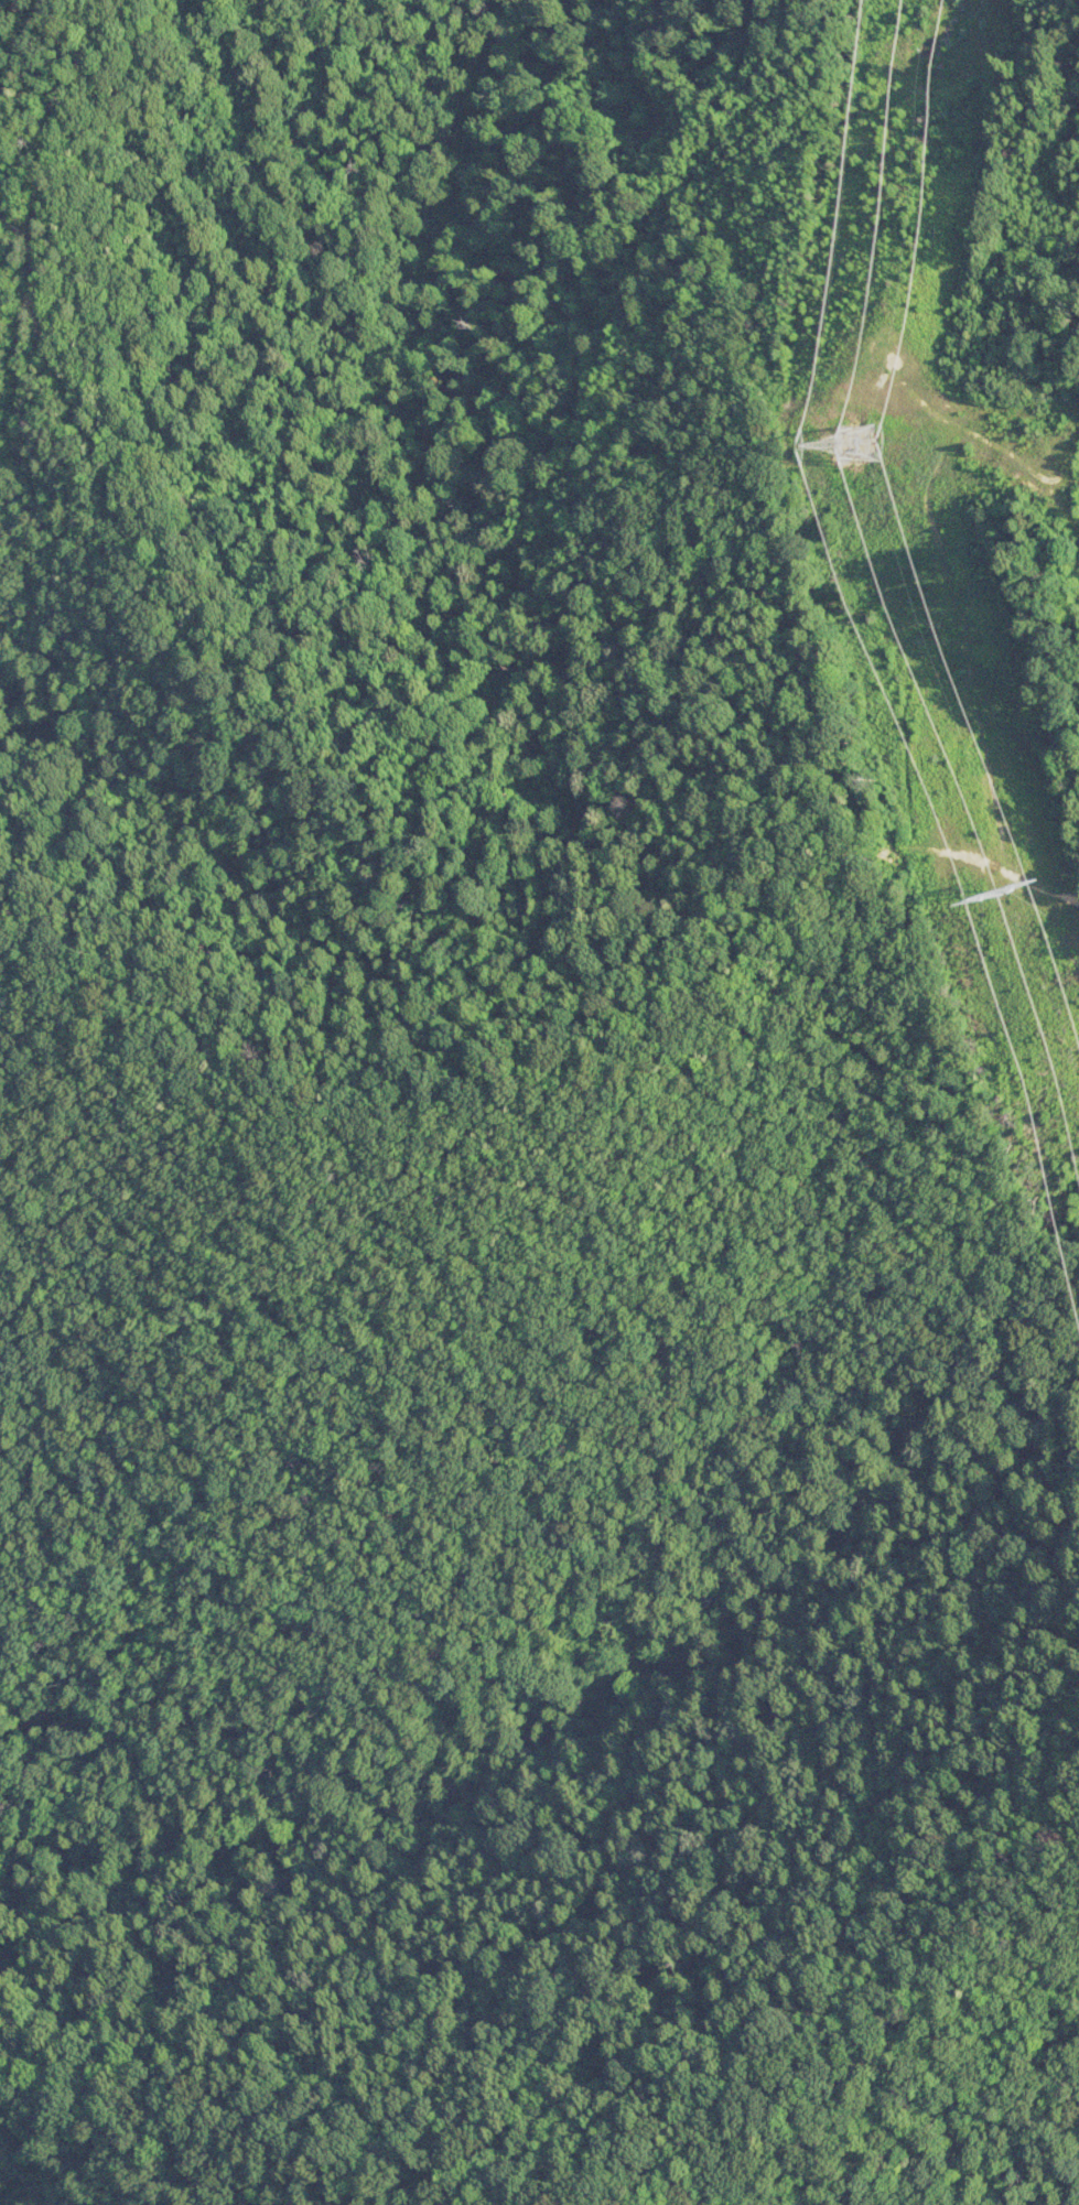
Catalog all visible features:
power tower: (865, 439)
power tower: (1003, 896)

